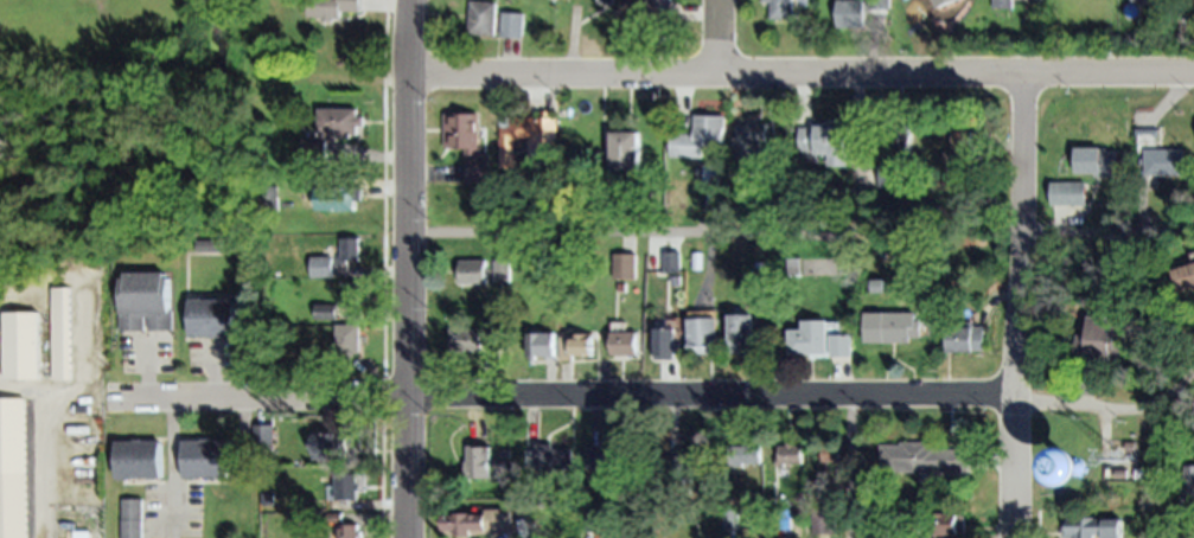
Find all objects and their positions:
building: (1134, 0)
building: (604, 1)
building: (1022, 2)
building: (880, 4)
building: (1001, 4)
building: (780, 8)
building: (324, 9)
building: (658, 9)
building: (853, 13)
building: (483, 18)
building: (511, 25)
road: (720, 37)
road: (799, 75)
building: (339, 122)
building: (698, 133)
building: (898, 136)
building: (747, 139)
building: (823, 140)
river: (158, 142)
building: (530, 142)
building: (762, 143)
building: (466, 145)
building: (627, 145)
building: (315, 150)
building: (958, 152)
building: (1097, 162)
building: (1164, 162)
building: (892, 169)
building: (710, 174)
building: (1068, 194)
building: (269, 197)
building: (339, 198)
building: (625, 201)
road: (709, 238)
building: (939, 238)
building: (222, 245)
building: (349, 251)
building: (671, 261)
building: (696, 262)
building: (793, 265)
building: (321, 267)
building: (624, 267)
road: (404, 268)
building: (500, 269)
building: (473, 270)
building: (1186, 278)
building: (677, 280)
building: (620, 287)
building: (347, 293)
building: (148, 301)
road: (1024, 306)
road: (84, 310)
building: (325, 312)
building: (213, 316)
building: (893, 325)
building: (704, 328)
building: (743, 329)
building: (64, 333)
building: (813, 334)
building: (466, 337)
building: (965, 337)
building: (347, 339)
building: (1103, 339)
building: (668, 340)
building: (542, 341)
building: (625, 342)
building: (843, 342)
building: (579, 344)
building: (24, 346)
building: (339, 360)
road: (657, 399)
building: (263, 436)
road: (43, 443)
building: (333, 446)
road: (170, 451)
building: (509, 453)
building: (613, 455)
building: (747, 455)
building: (792, 455)
building: (832, 455)
building: (140, 459)
building: (206, 459)
building: (925, 459)
building: (555, 460)
building: (479, 462)
building: (692, 466)
building: (13, 467)
road: (856, 468)
road: (244, 470)
water tower: (1080, 472)
building: (1124, 474)
building: (1058, 475)
building: (344, 487)
building: (1187, 487)
building: (334, 518)
building: (734, 518)
building: (784, 518)
building: (132, 519)
building: (944, 520)
building: (826, 521)
building: (481, 523)
building: (1093, 527)
building: (347, 531)
building: (914, 537)

